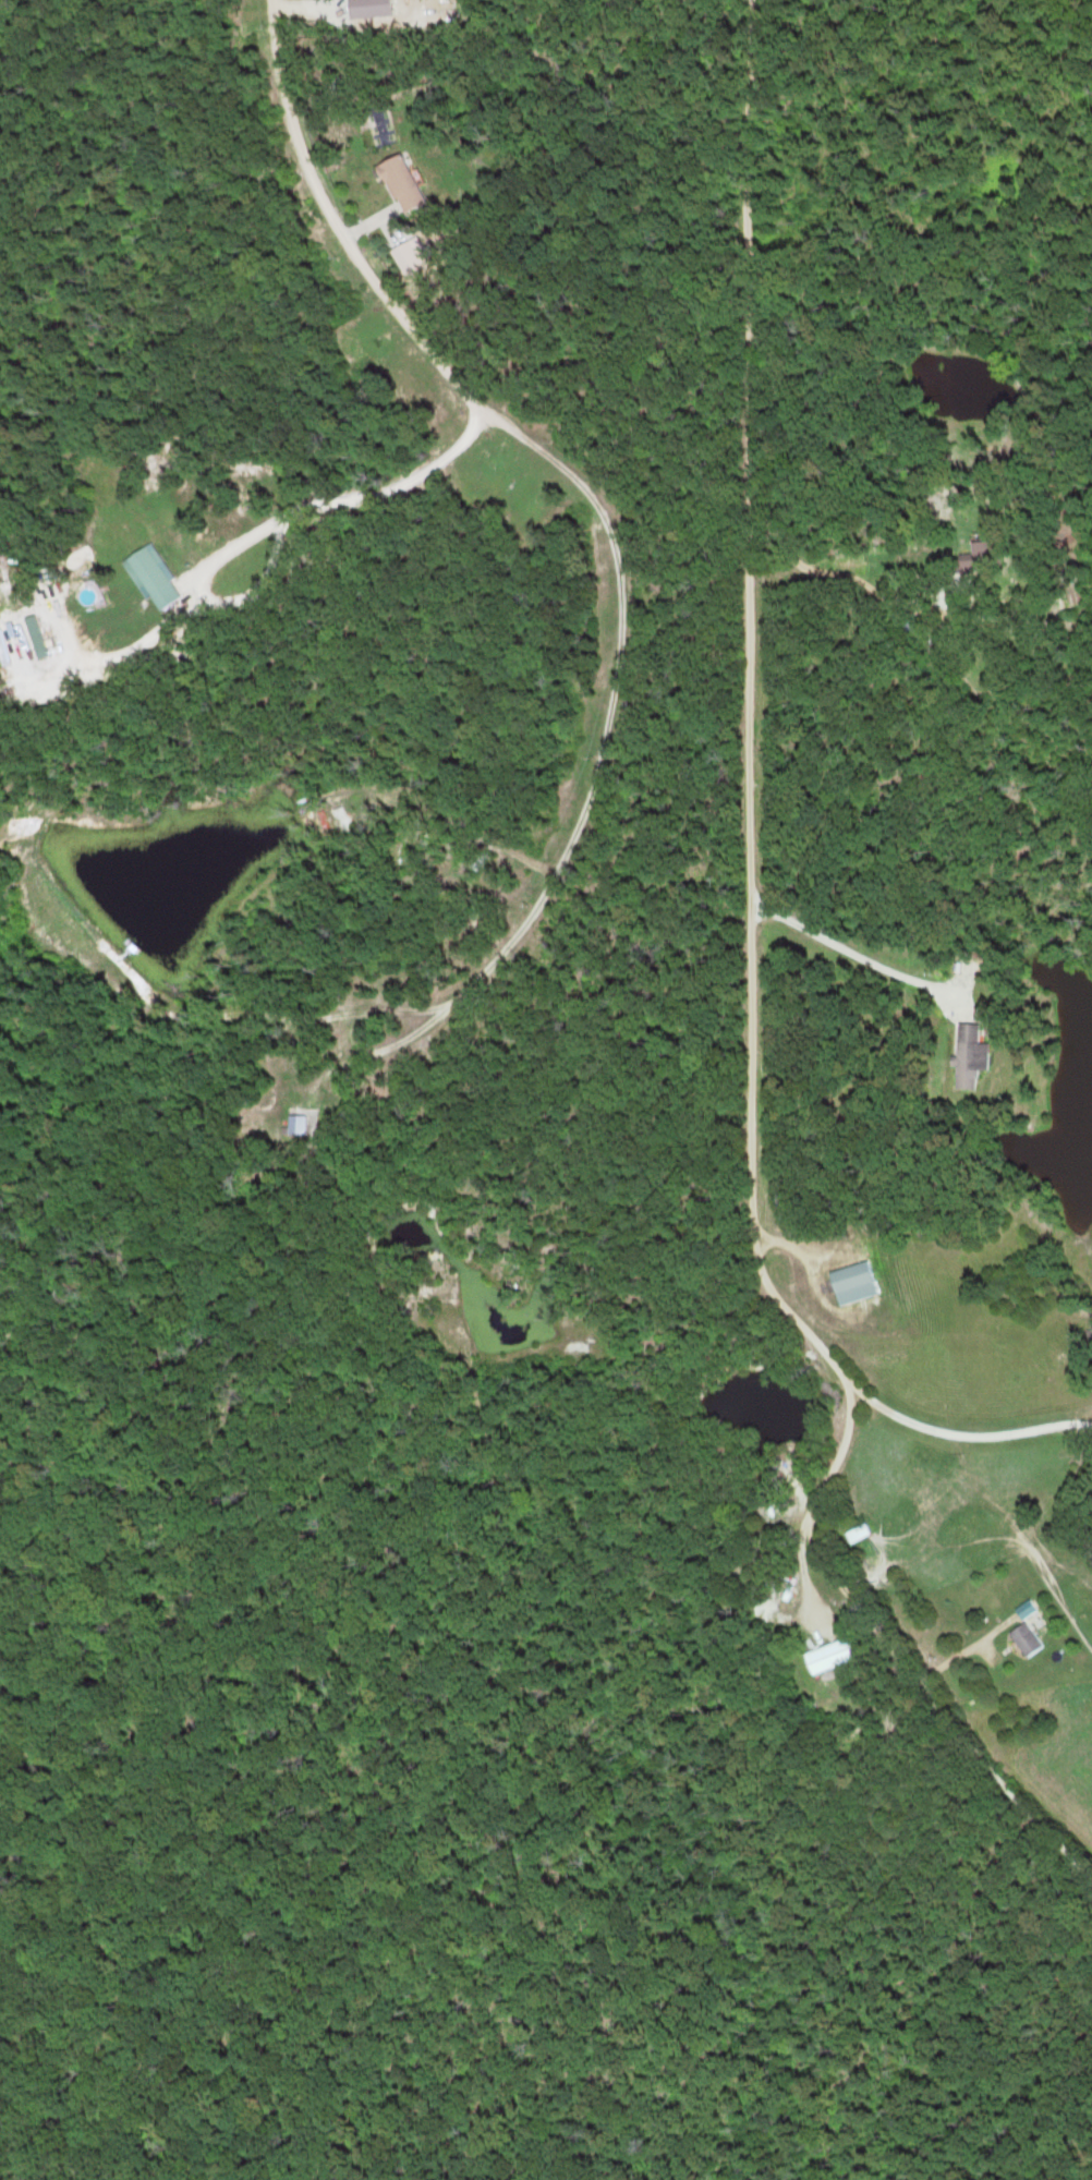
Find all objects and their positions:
building: (407, 185)
road: (398, 299)
road: (270, 524)
building: (991, 550)
building: (156, 579)
road: (742, 625)
road: (559, 871)
building: (975, 1057)
building: (856, 1284)
road: (926, 1347)
building: (860, 1535)
road: (861, 1596)
building: (1029, 1639)
building: (832, 1656)

